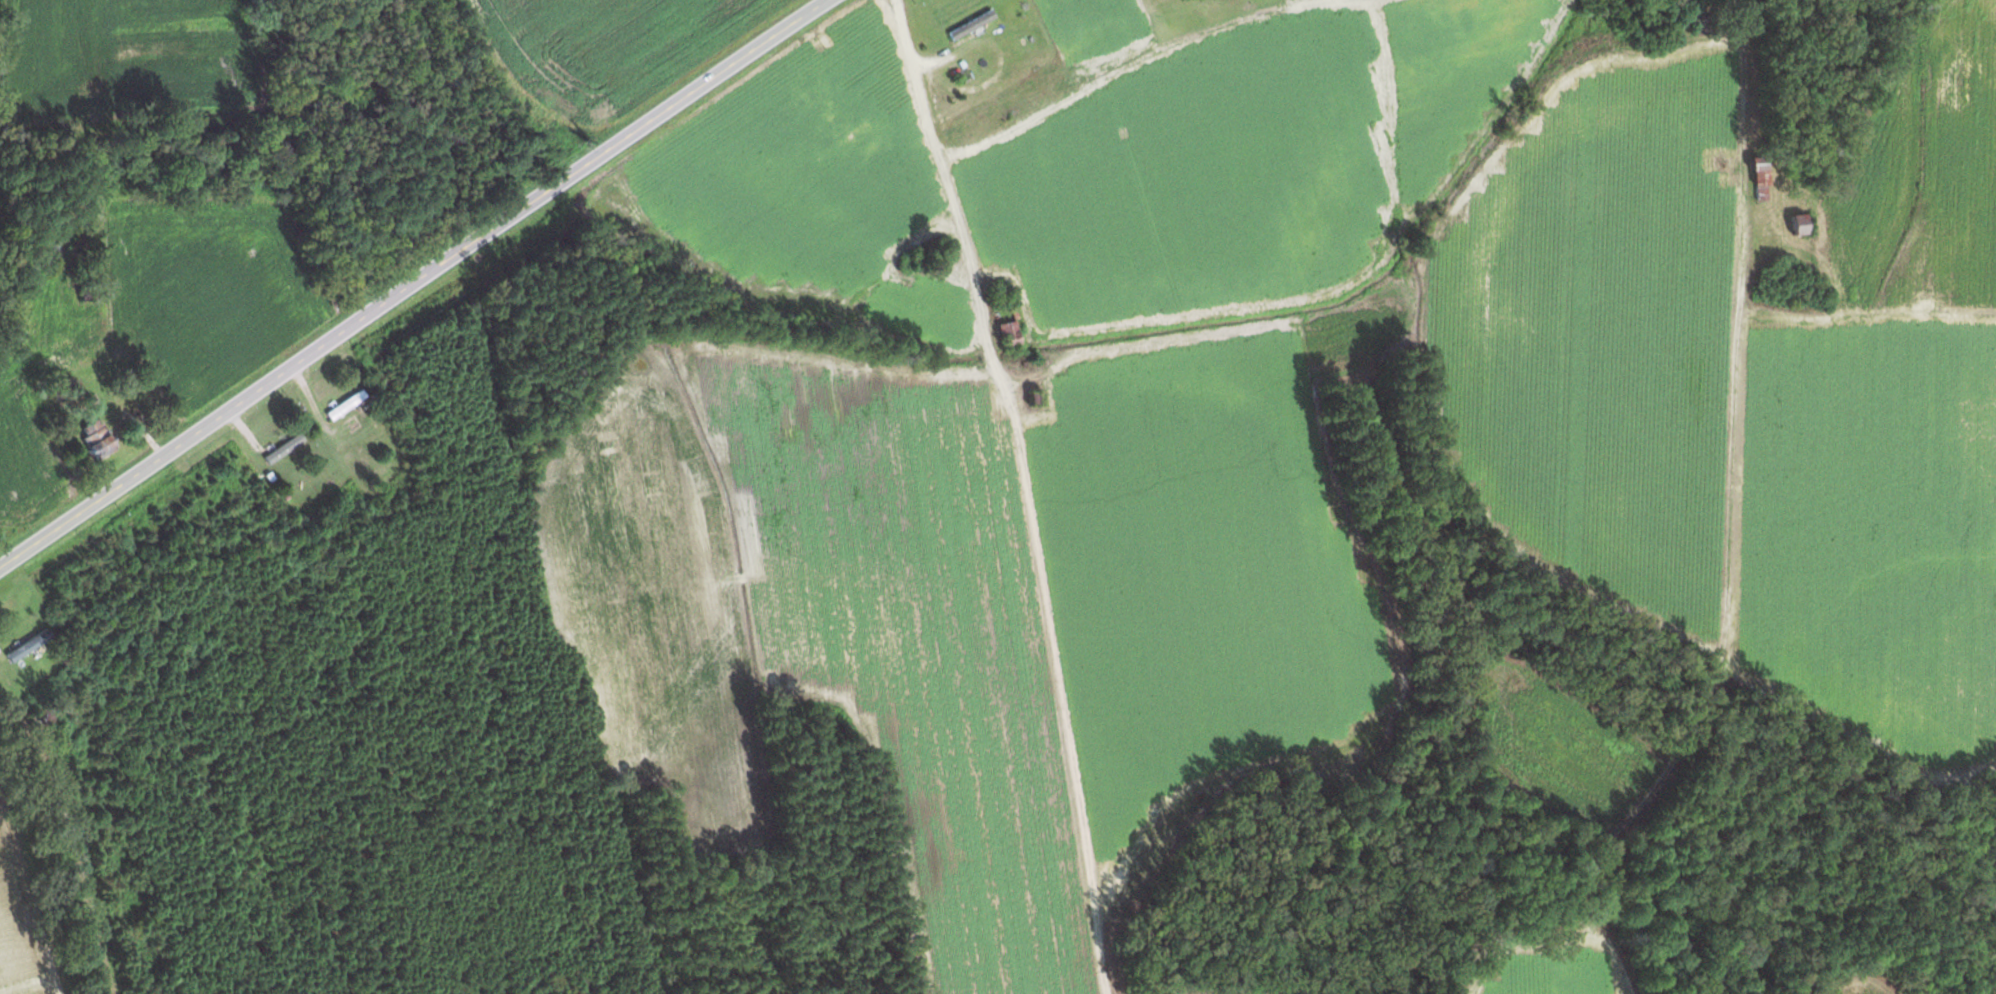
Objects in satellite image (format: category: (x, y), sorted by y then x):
building: (970, 26)
building: (1758, 184)
building: (1795, 227)
road: (414, 284)
building: (355, 432)
building: (94, 440)
building: (281, 450)
building: (25, 647)
building: (42, 719)

